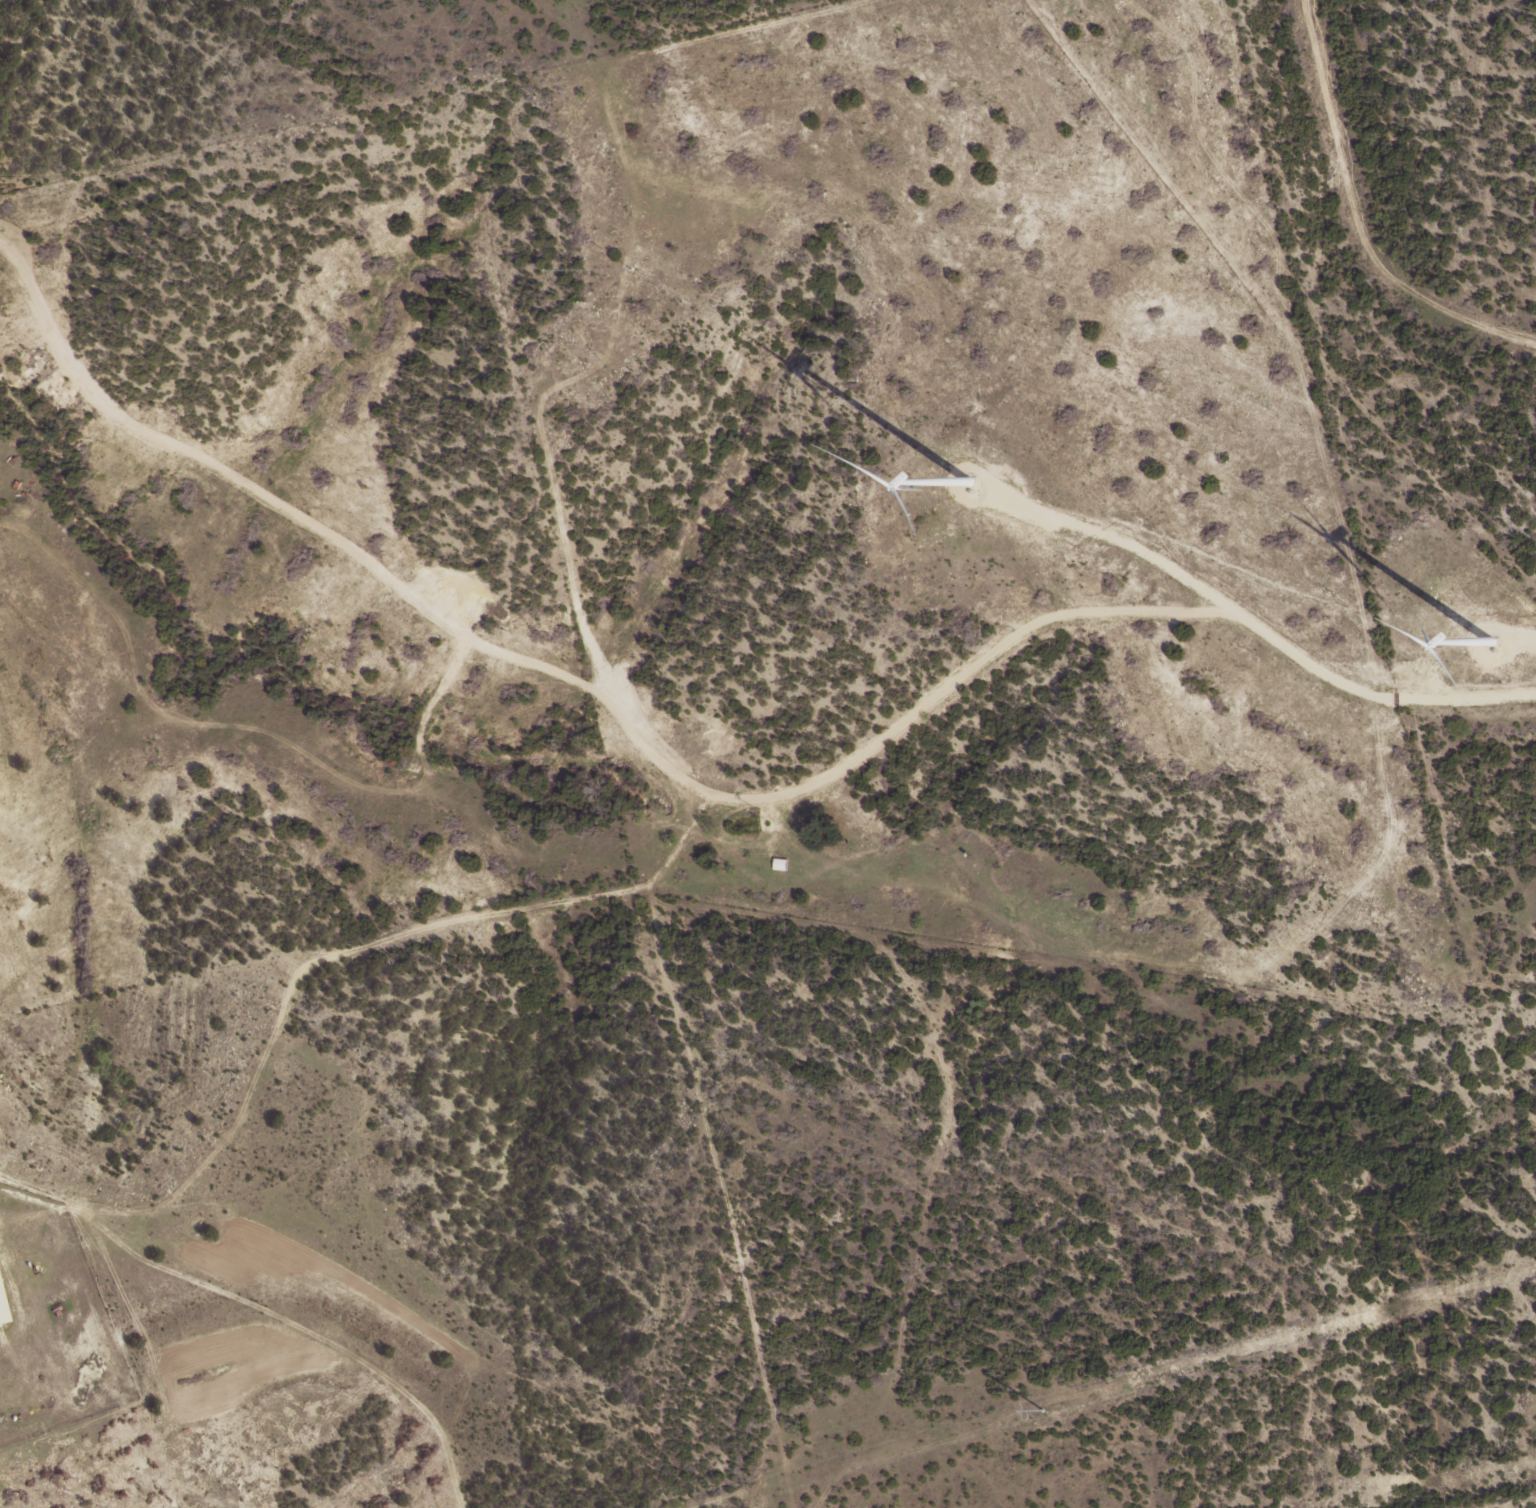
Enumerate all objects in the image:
road: (1412, 178)
wind turbine: (994, 488)
wind turbine: (1488, 658)
building: (0, 1320)
power tower: (1039, 1410)

